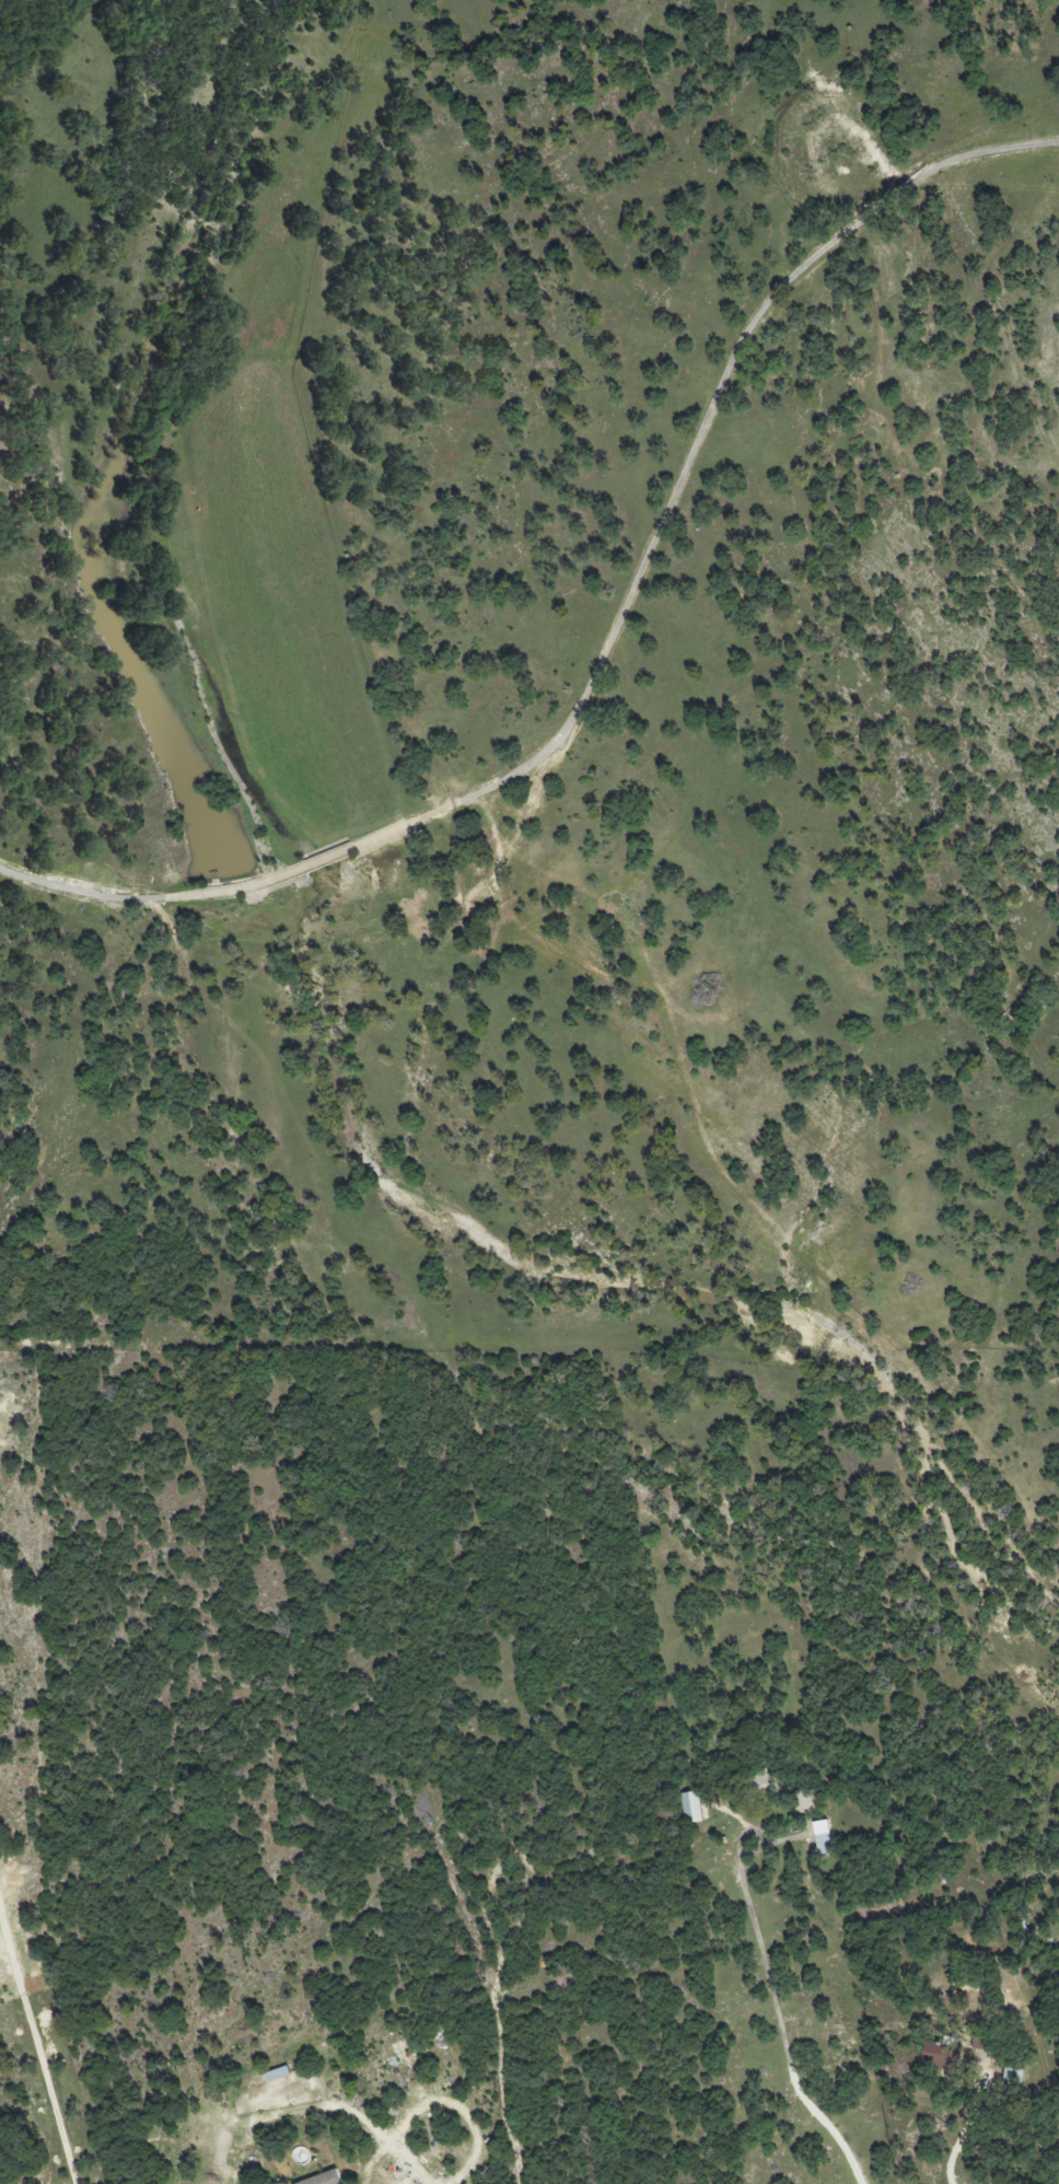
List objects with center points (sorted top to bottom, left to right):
road: (610, 641)
building: (691, 1808)
building: (823, 1837)
road: (776, 2001)
road: (37, 2052)
building: (943, 2056)
building: (1013, 2077)
road: (961, 2138)
building: (325, 2179)

